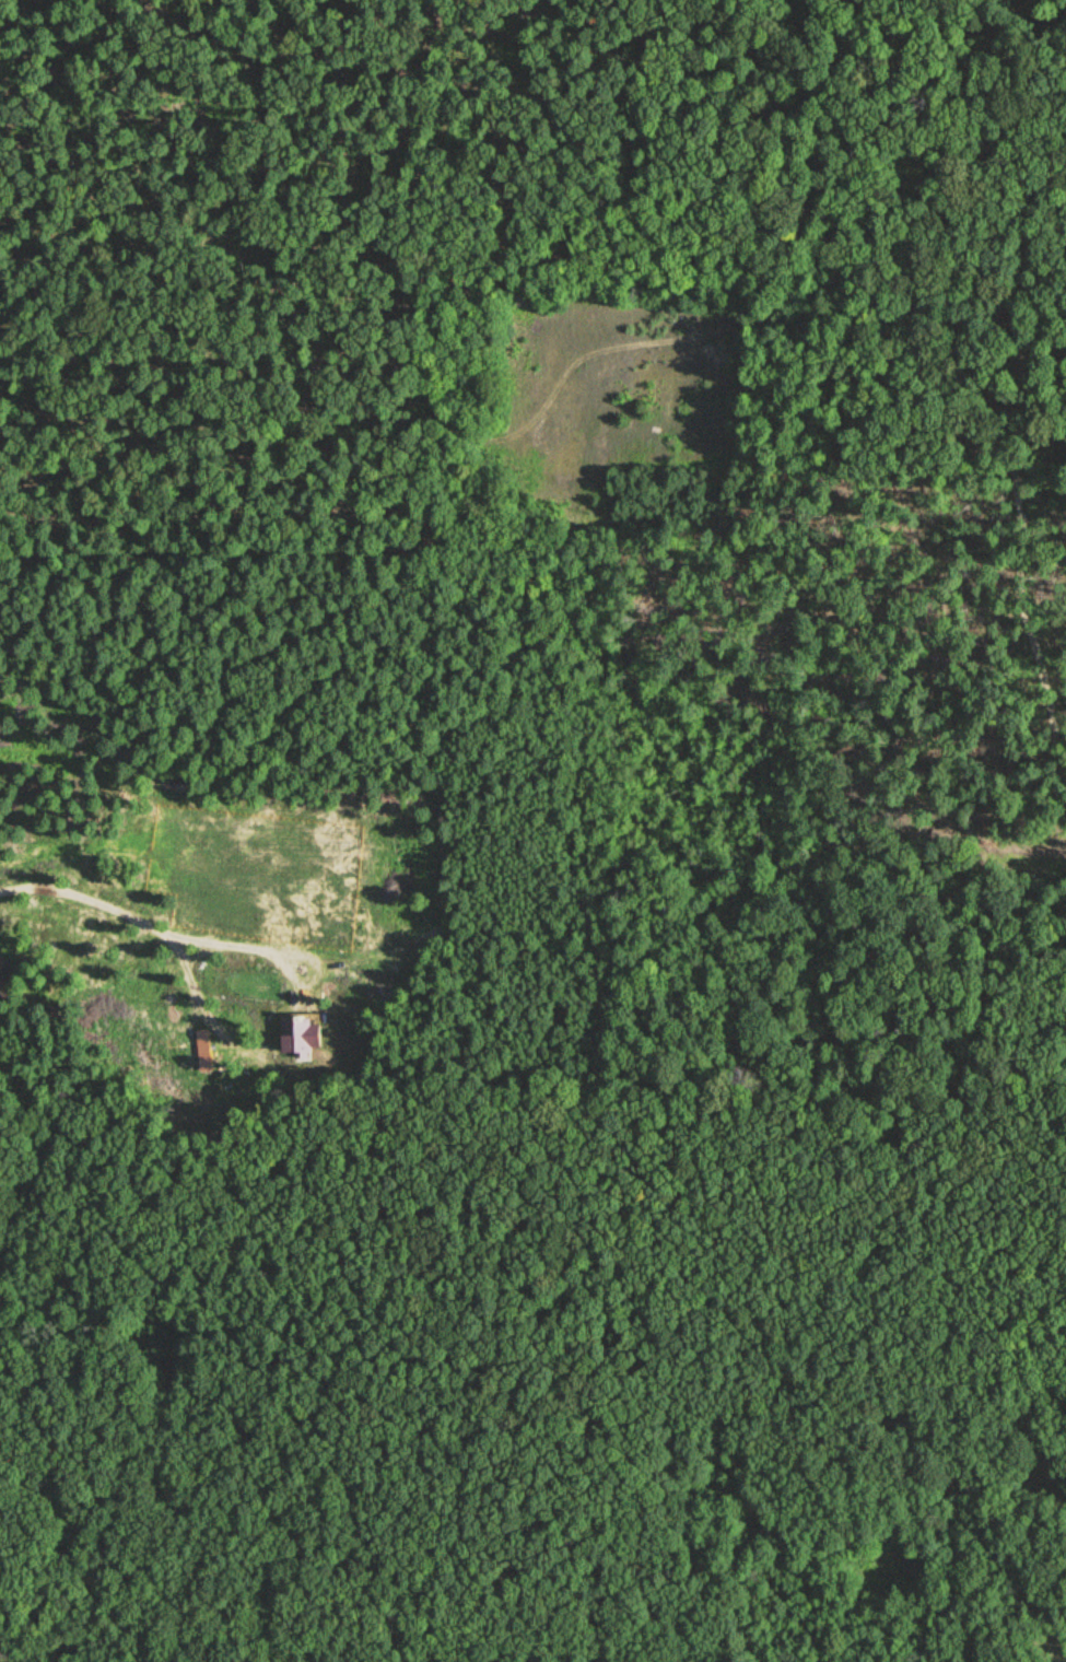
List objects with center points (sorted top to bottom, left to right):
road: (1034, 359)
road: (528, 447)
road: (144, 921)
road: (259, 947)
building: (298, 1033)
road: (654, 1148)
road: (876, 1221)

